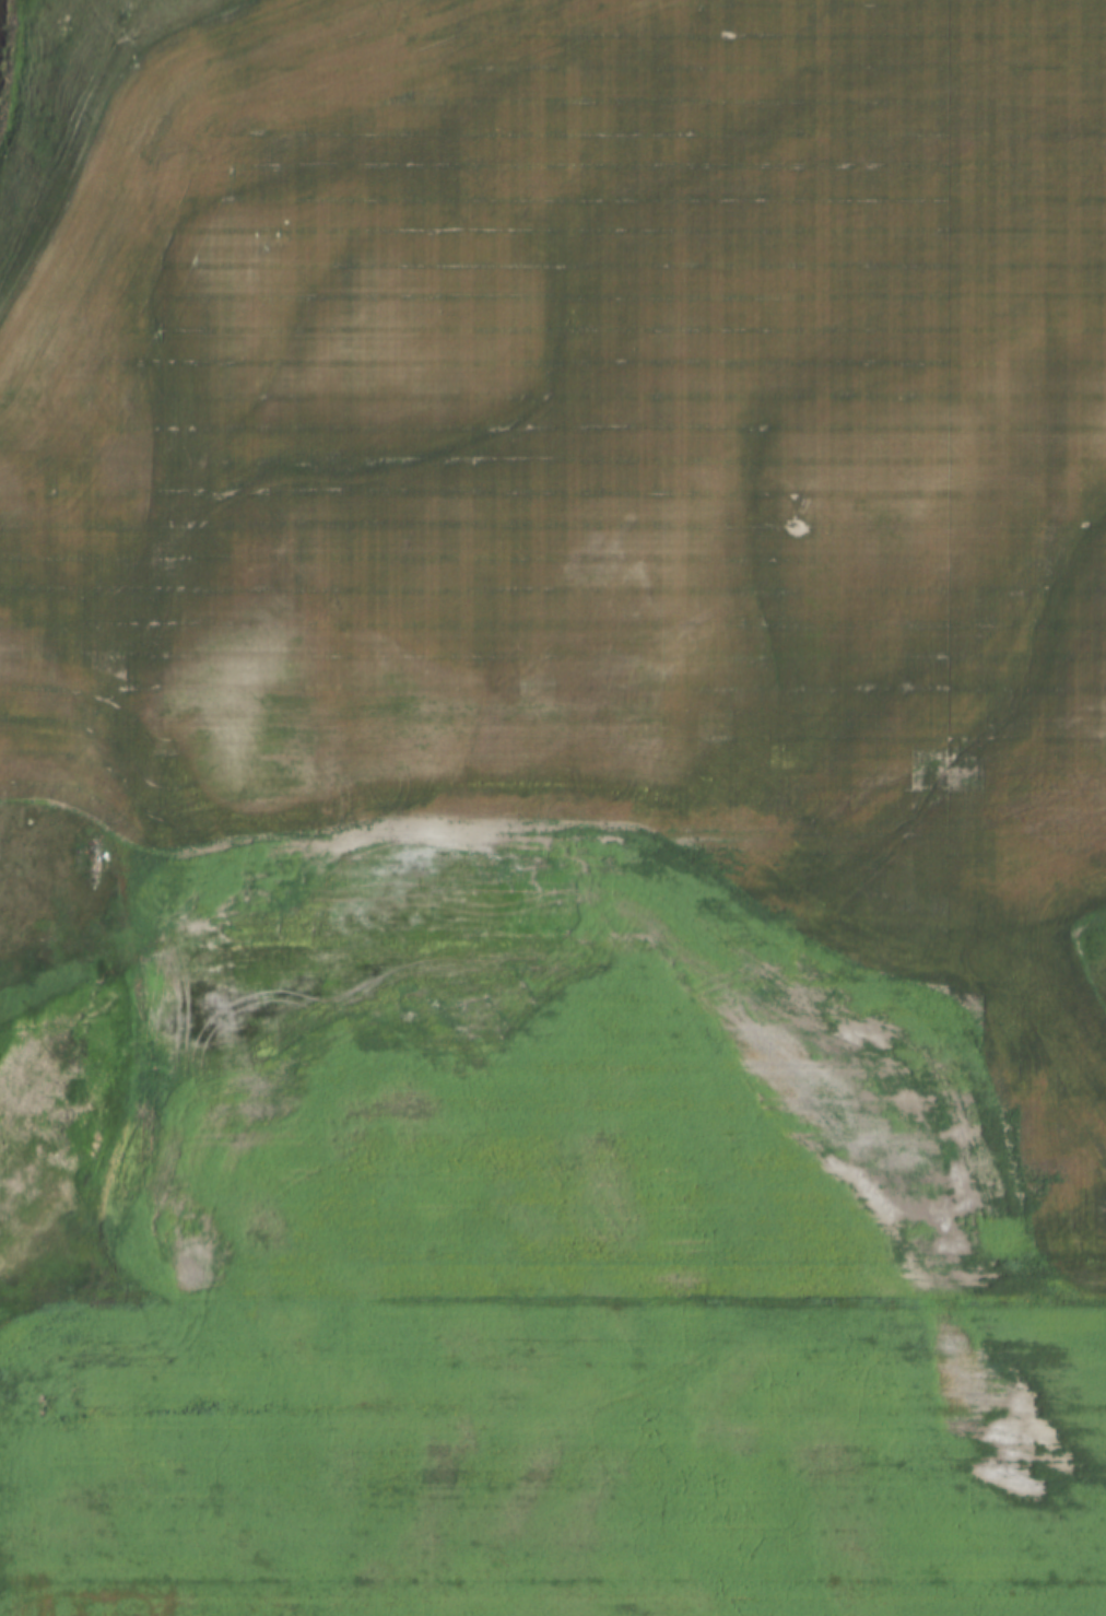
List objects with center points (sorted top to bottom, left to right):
road: (33, 772)

